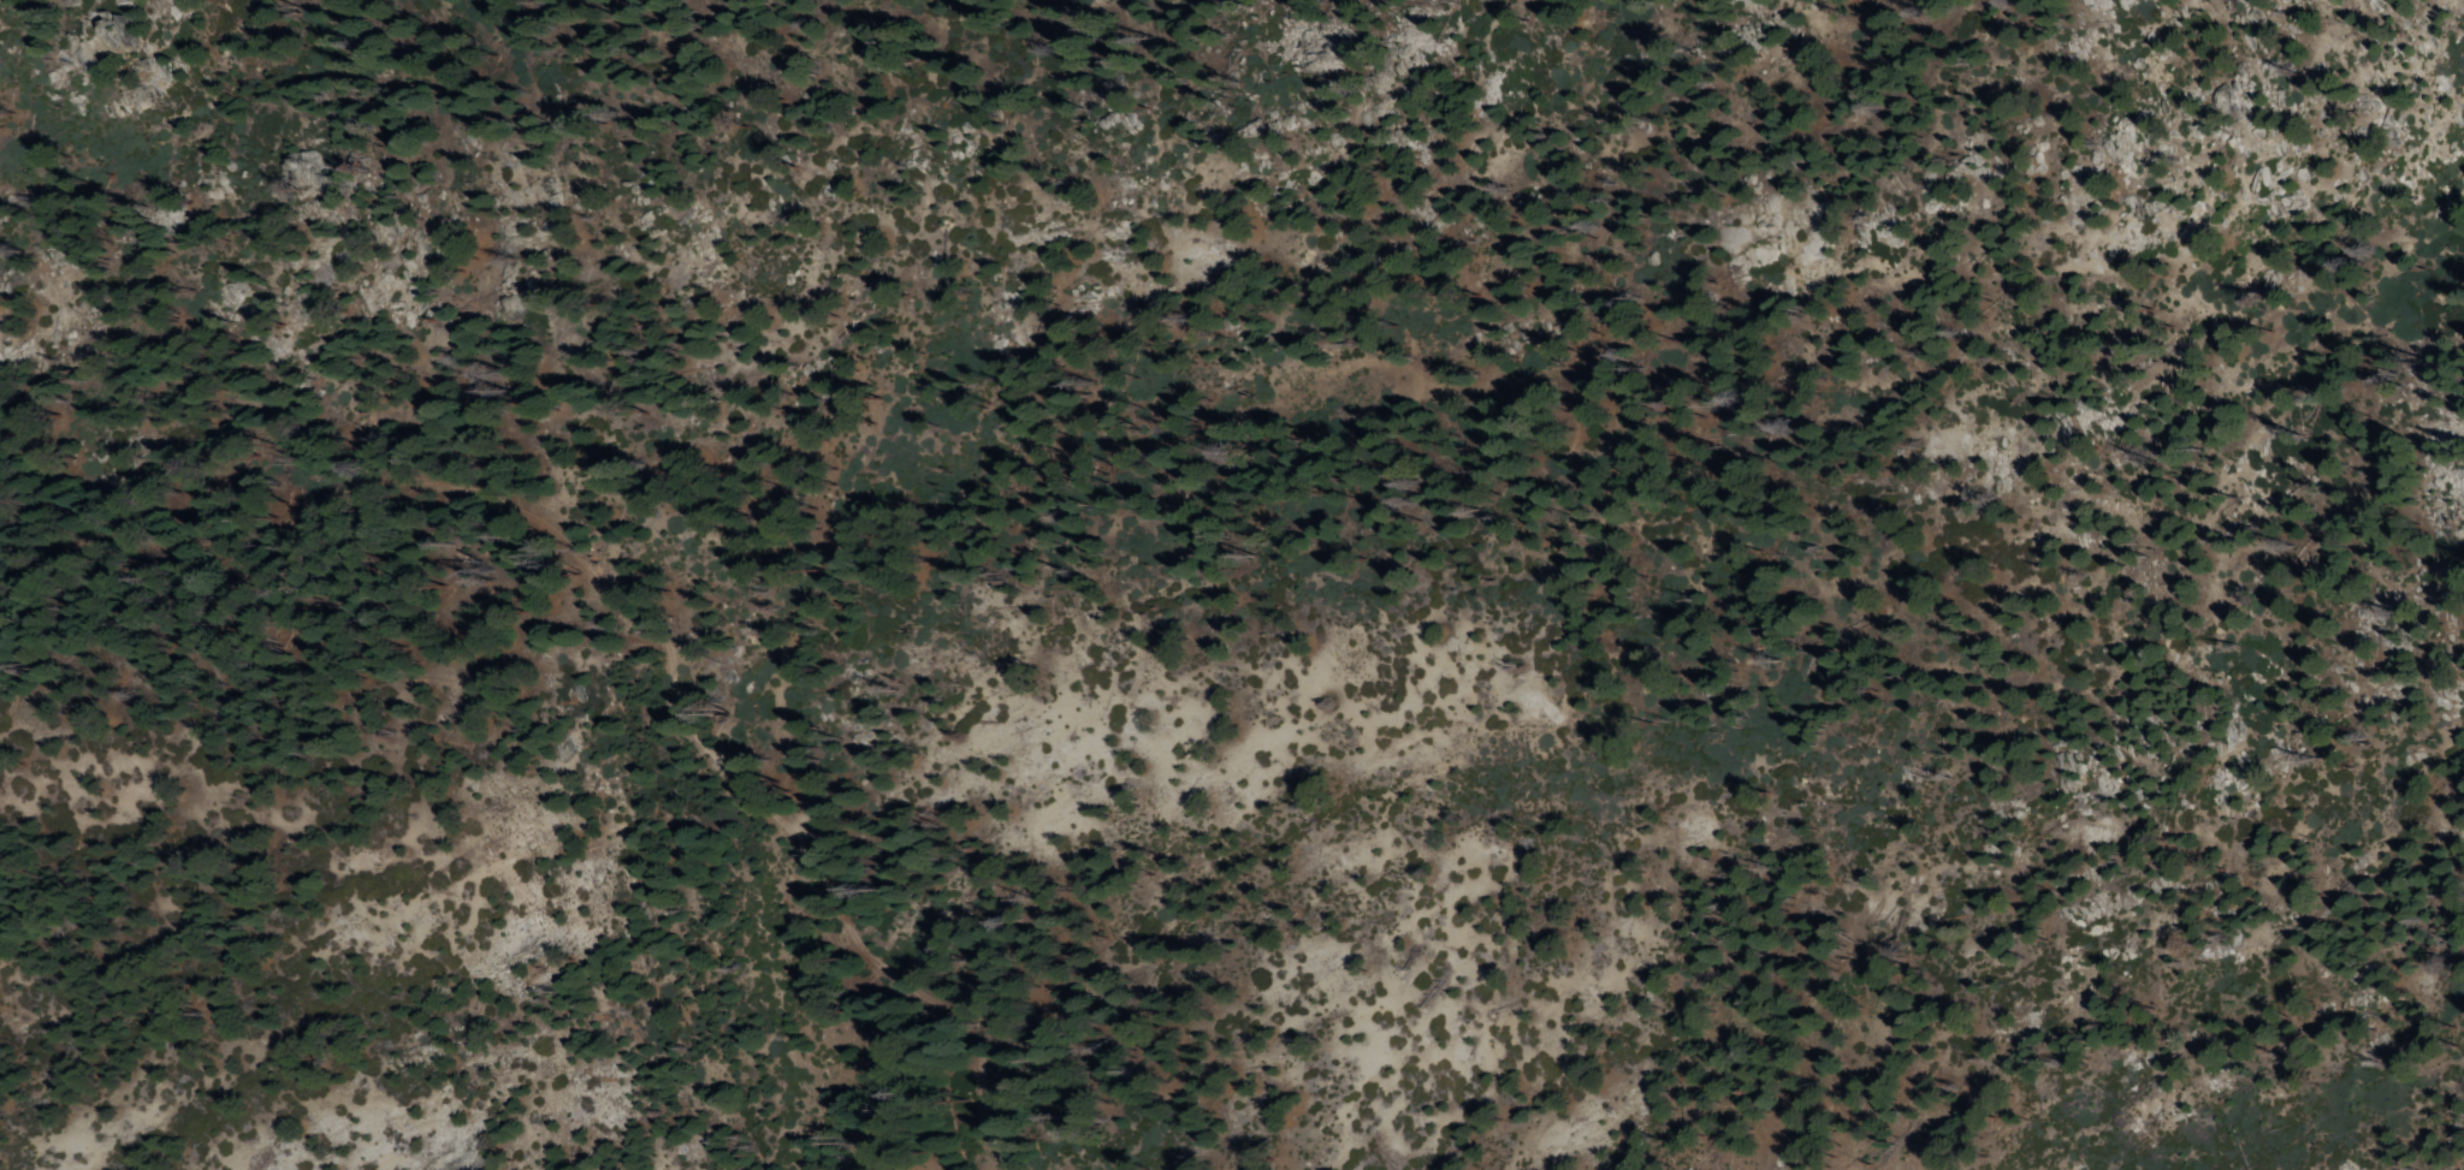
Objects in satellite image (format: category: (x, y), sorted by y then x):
road: (638, 610)

